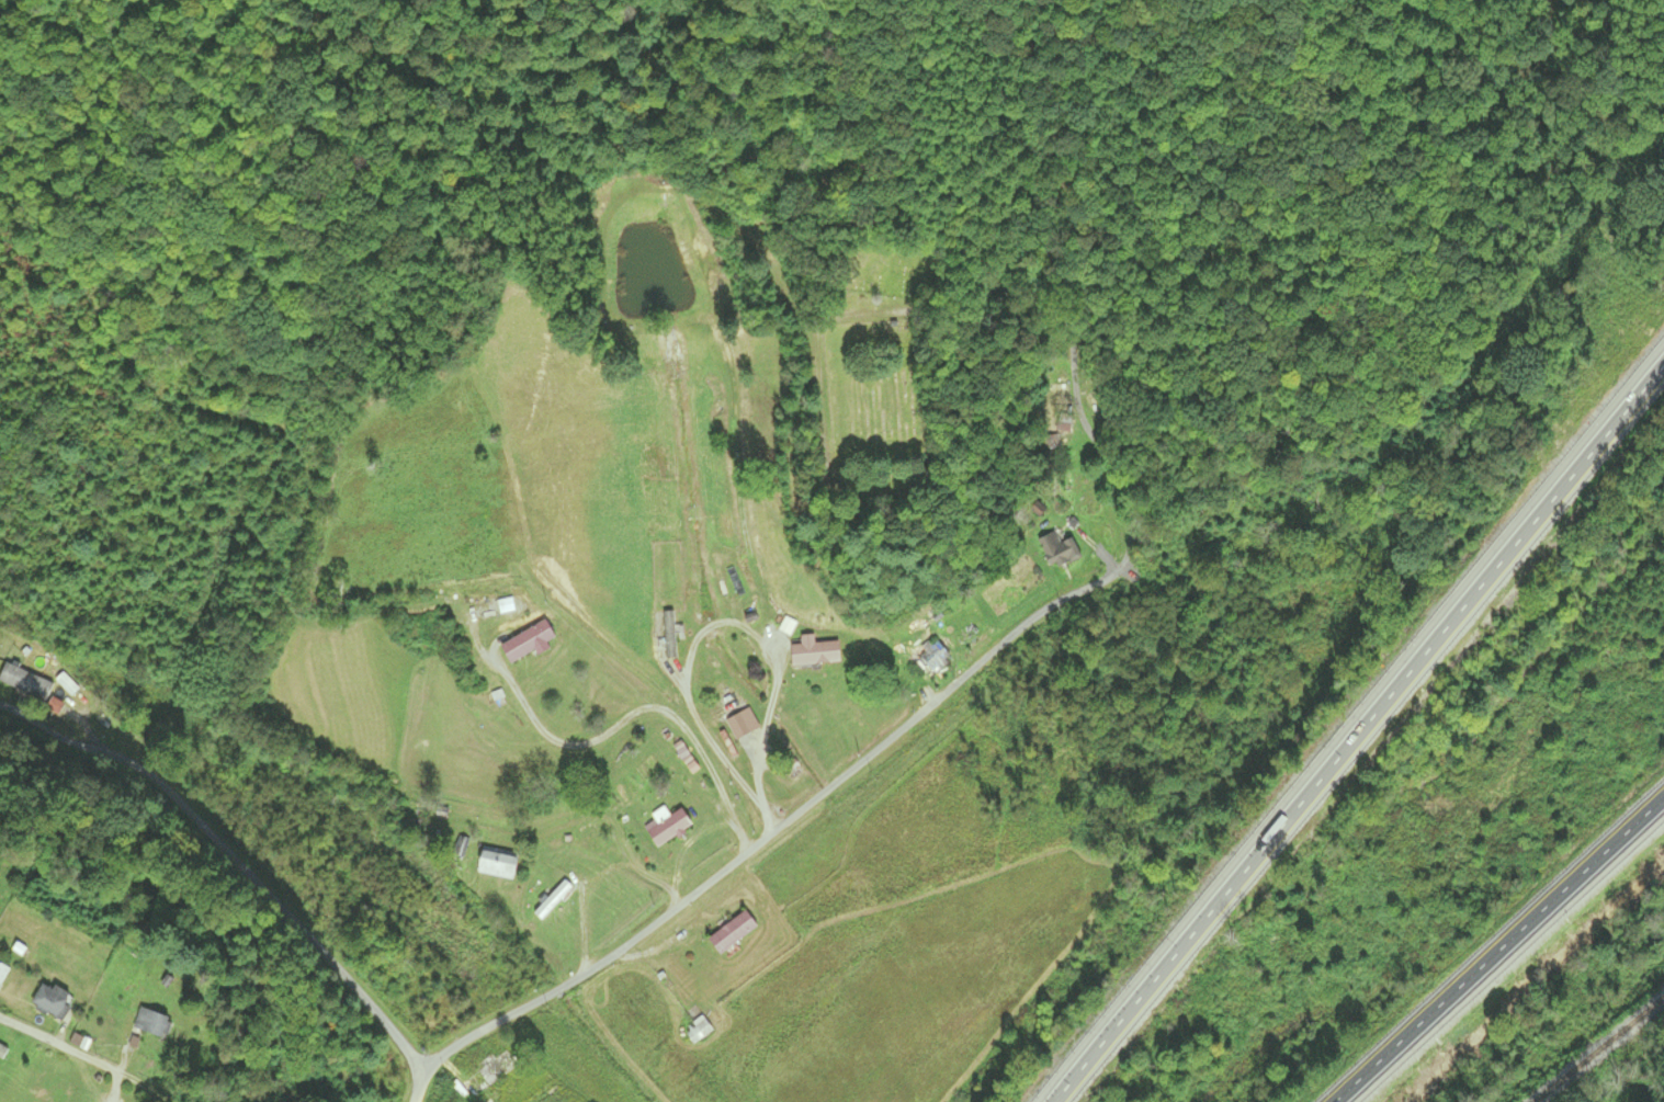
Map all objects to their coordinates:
crop: (531, 500)
building: (1056, 550)
building: (505, 606)
building: (527, 643)
building: (814, 652)
building: (932, 658)
building: (25, 683)
building: (742, 724)
road: (1357, 728)
building: (667, 828)
building: (495, 864)
building: (732, 933)
road: (1501, 951)
building: (2, 973)
road: (554, 989)
building: (48, 1001)
building: (149, 1024)
building: (698, 1031)
railway: (1598, 1048)
road: (71, 1052)
building: (495, 1069)
road: (417, 1084)
building: (488, 1100)

